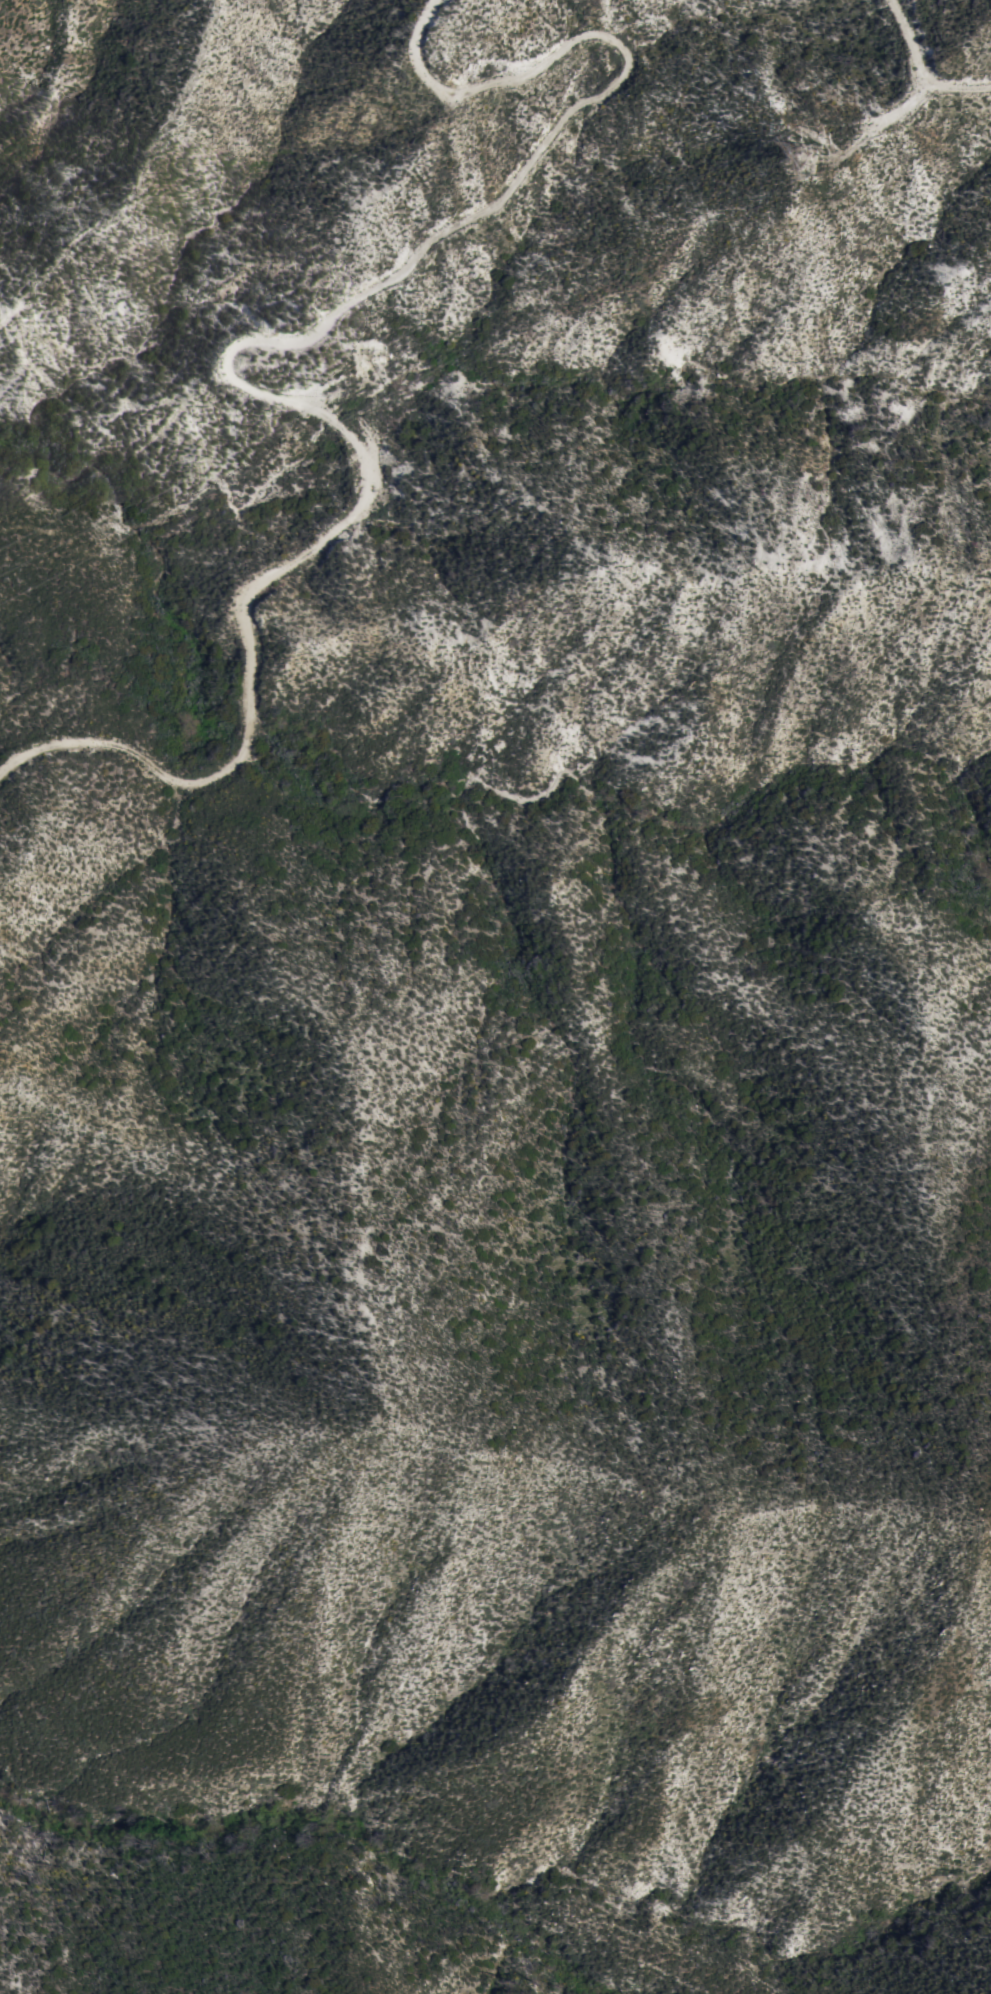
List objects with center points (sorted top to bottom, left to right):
road: (923, 68)
power tower: (809, 152)
road: (236, 345)

